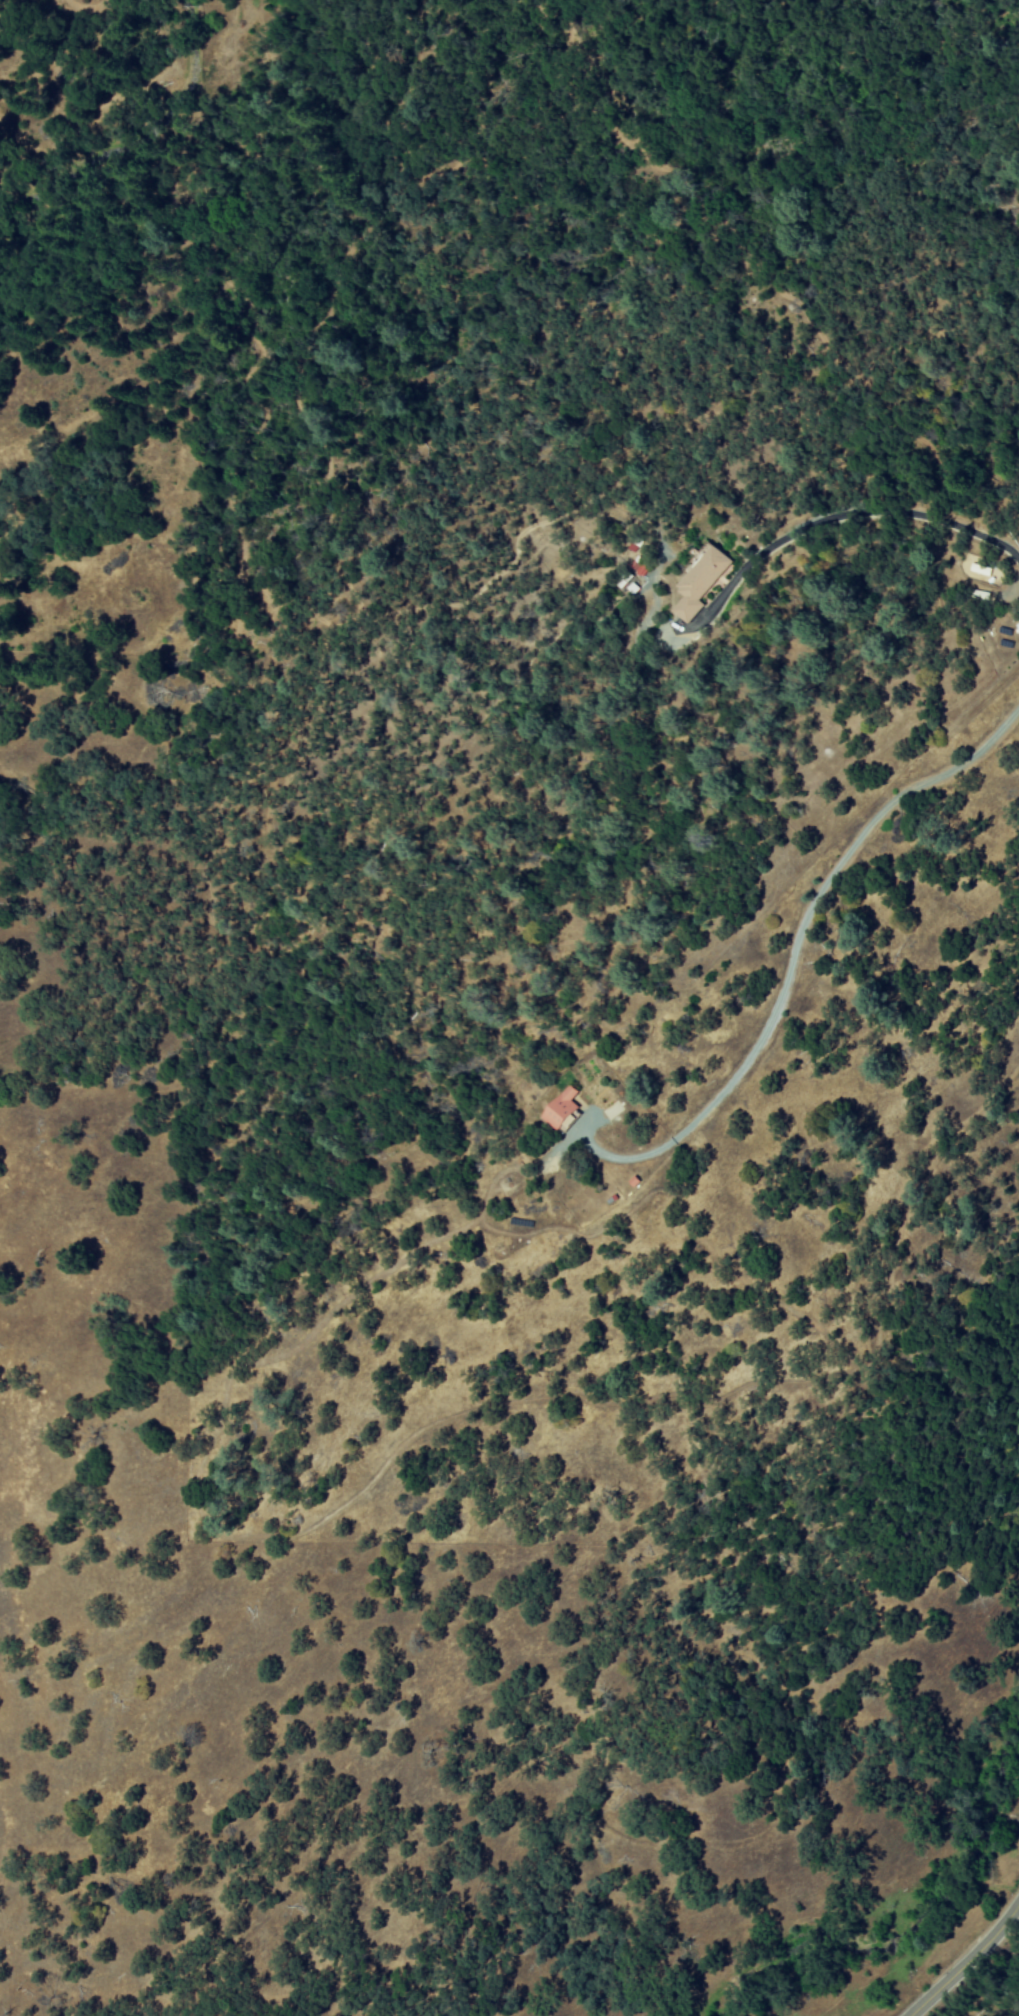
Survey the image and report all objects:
road: (838, 516)
building: (702, 583)
road: (791, 944)
building: (568, 1108)
road: (963, 1963)

